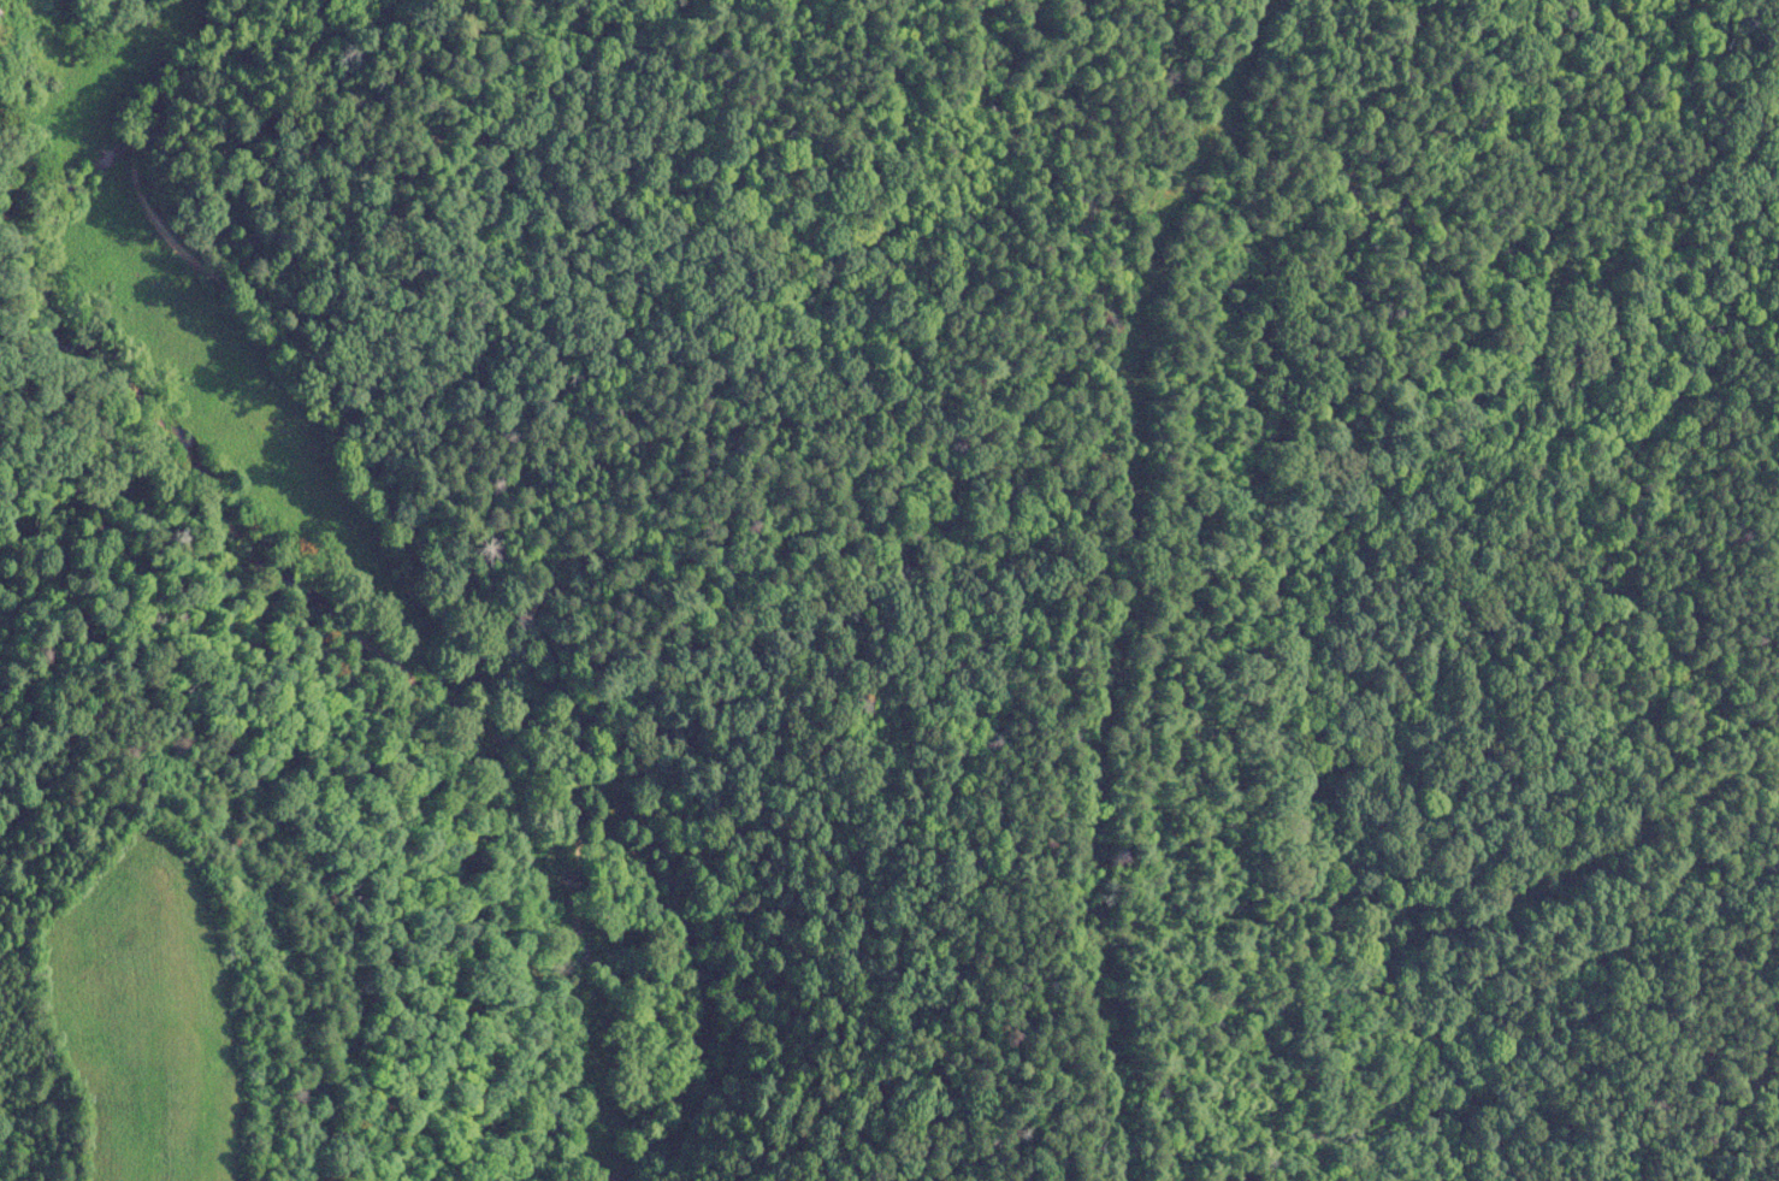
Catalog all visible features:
road: (433, 603)

